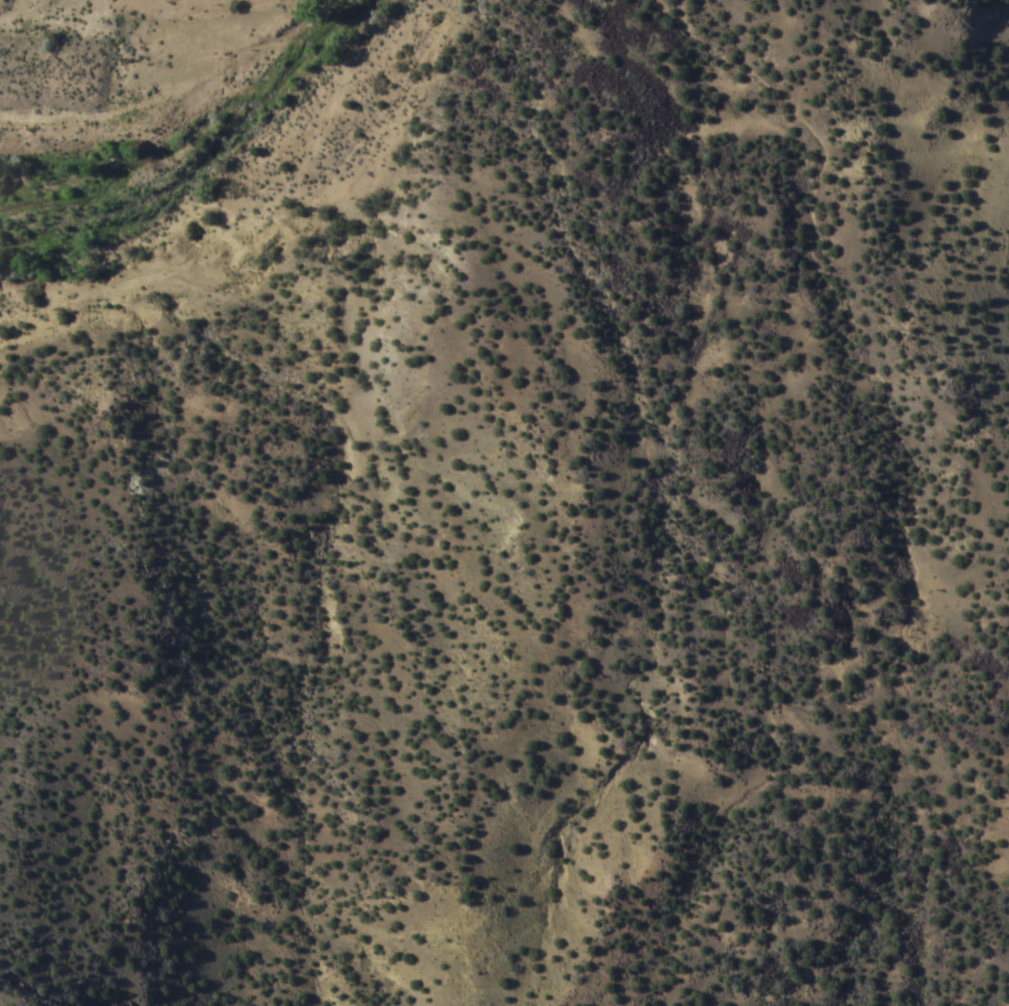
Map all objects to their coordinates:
road: (142, 95)
river: (267, 144)
road: (283, 268)

